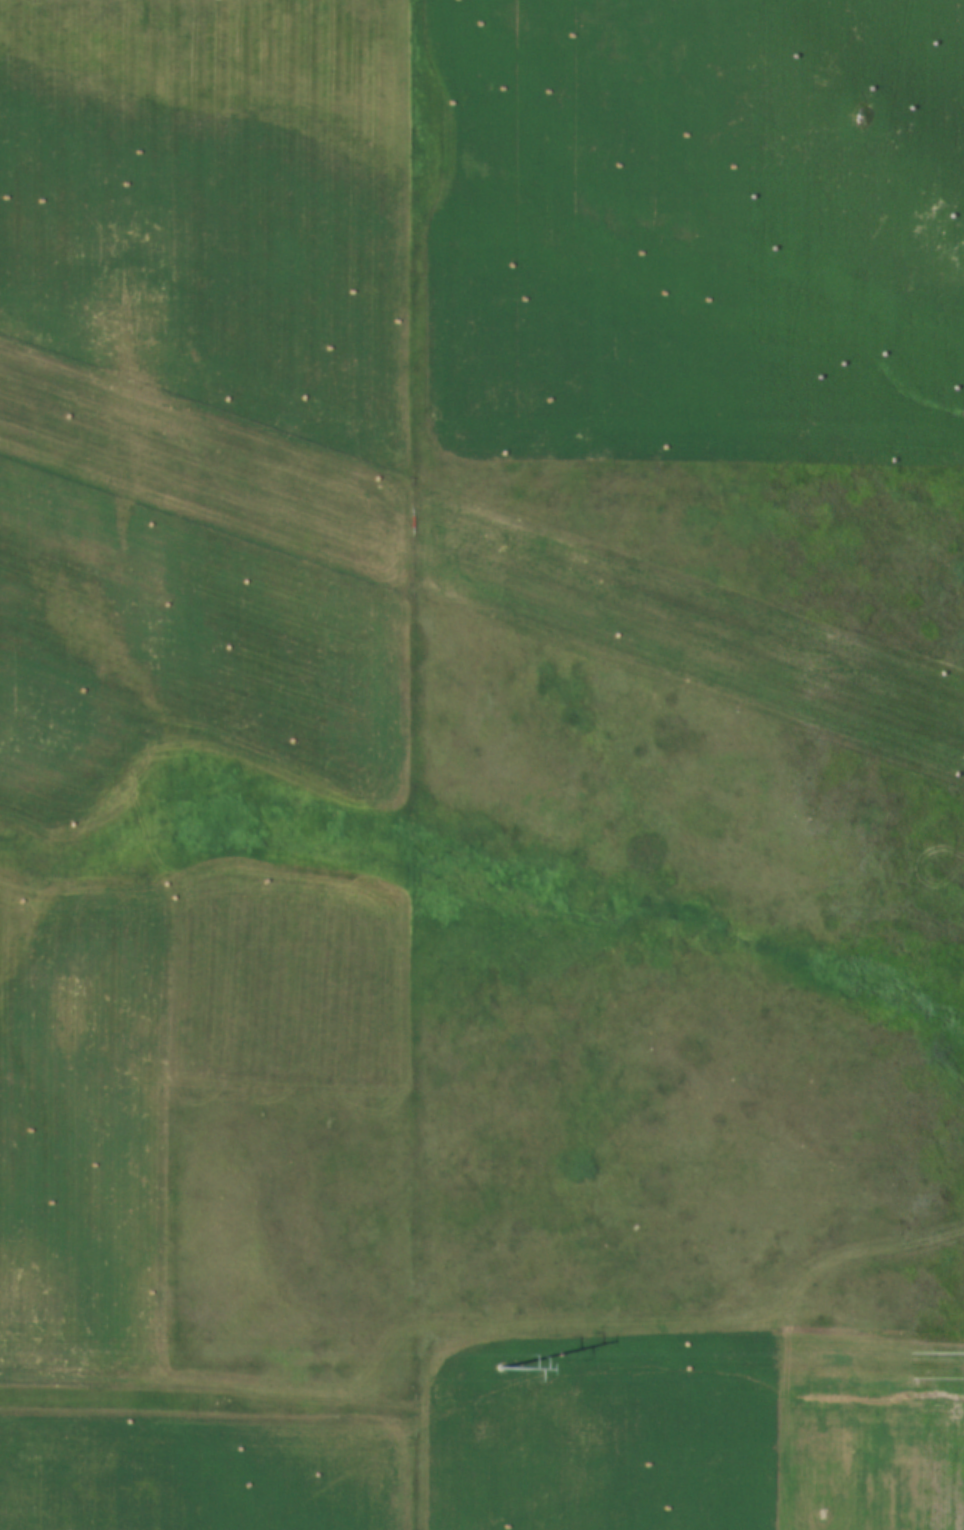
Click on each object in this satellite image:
power tower: (494, 1367)

